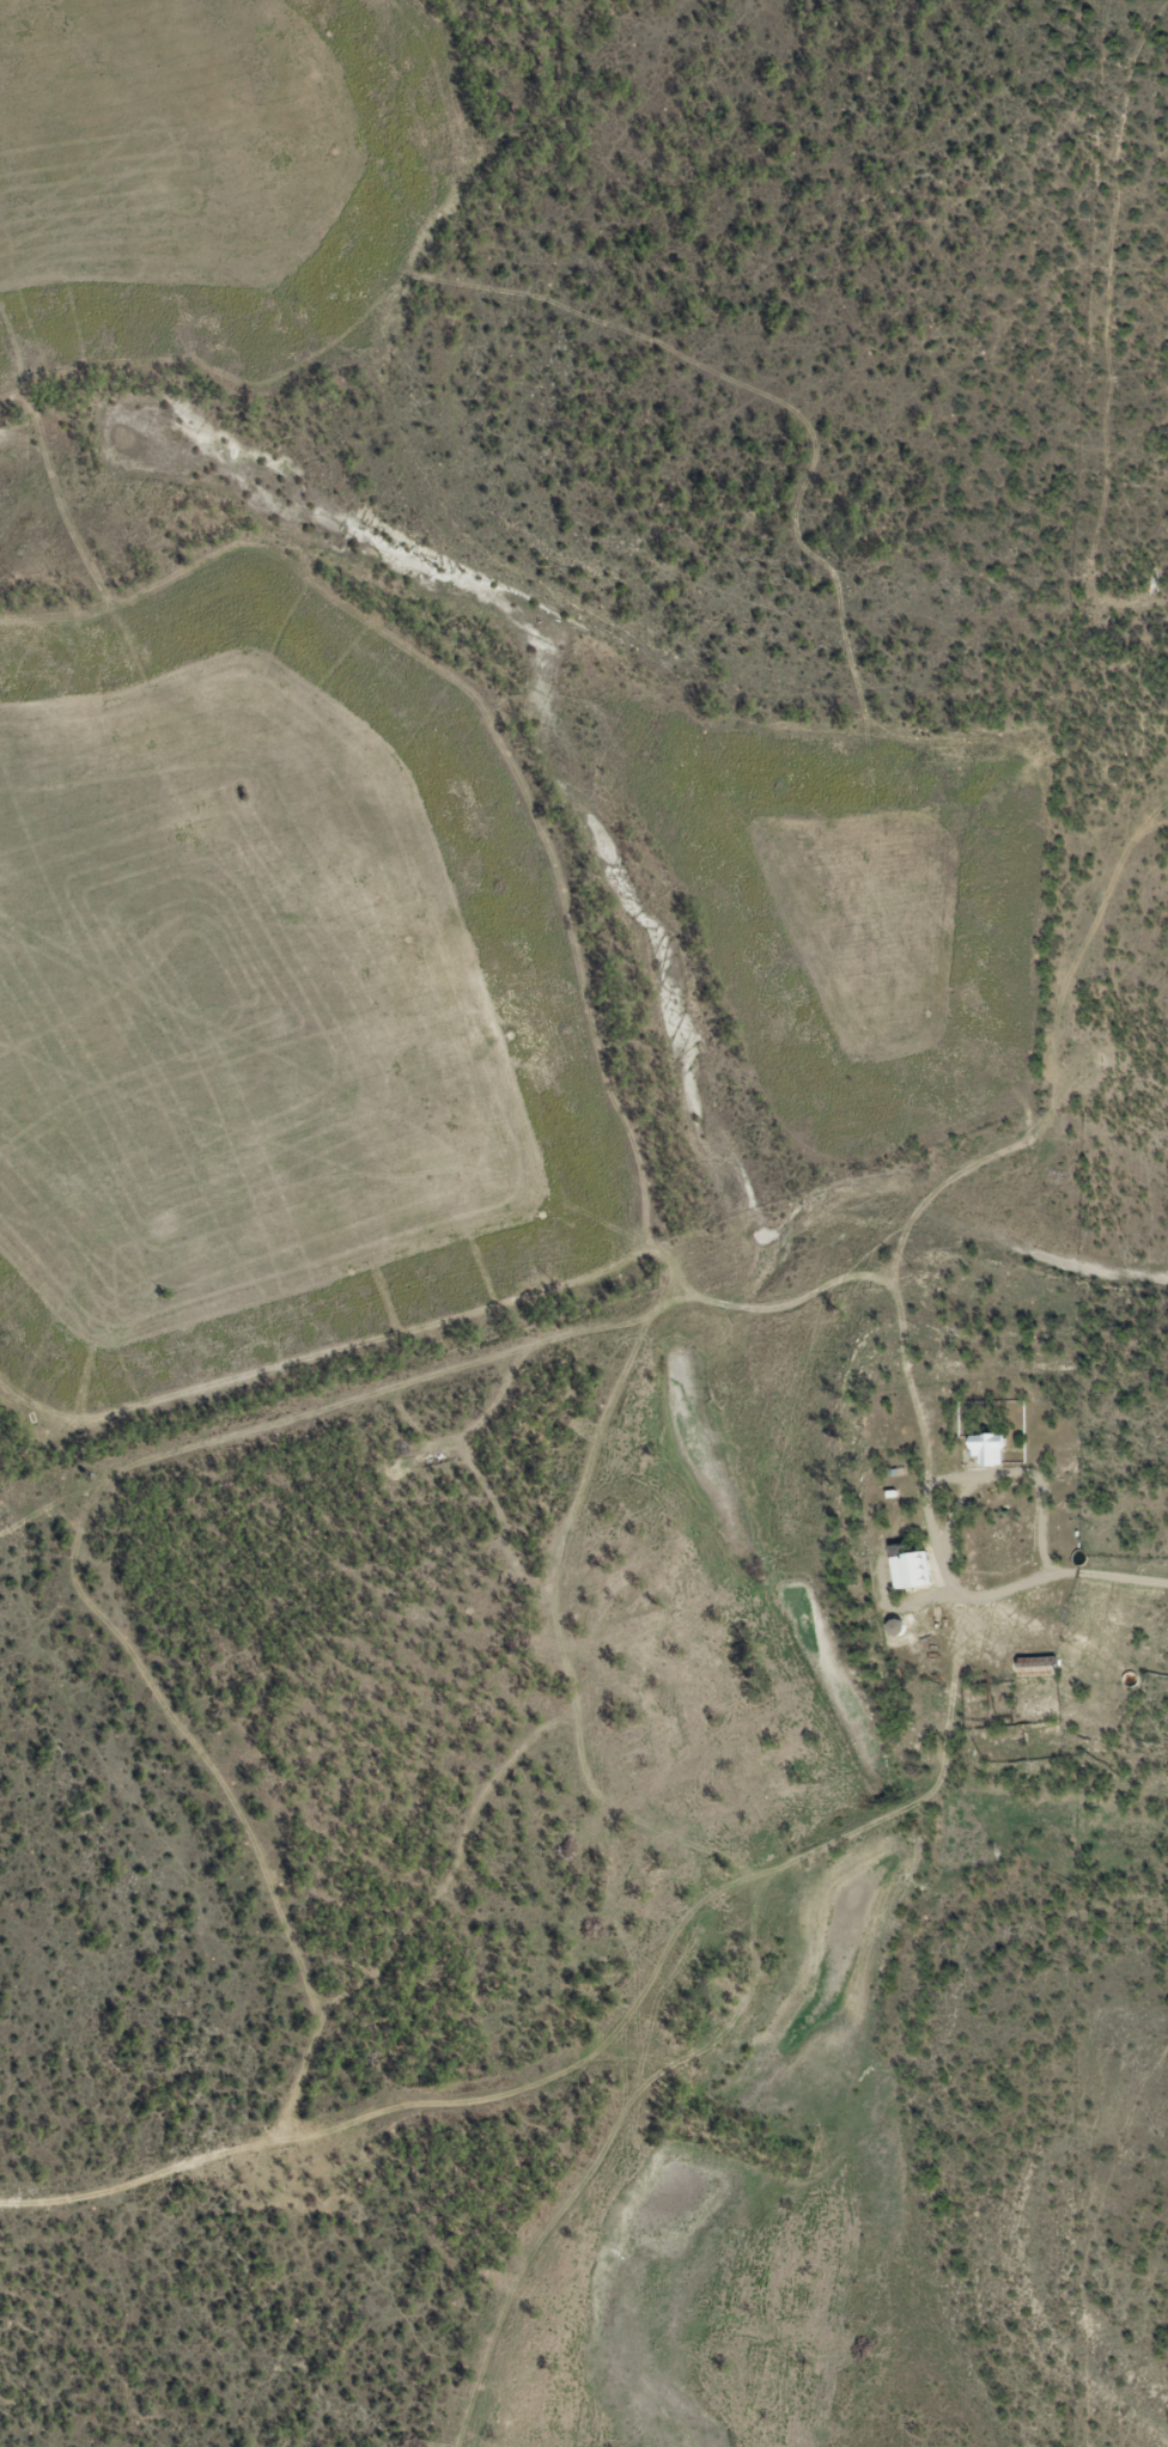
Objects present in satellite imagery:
building: (988, 1449)
road: (1082, 1548)
building: (912, 1571)
building: (1039, 1669)
road: (609, 2010)

